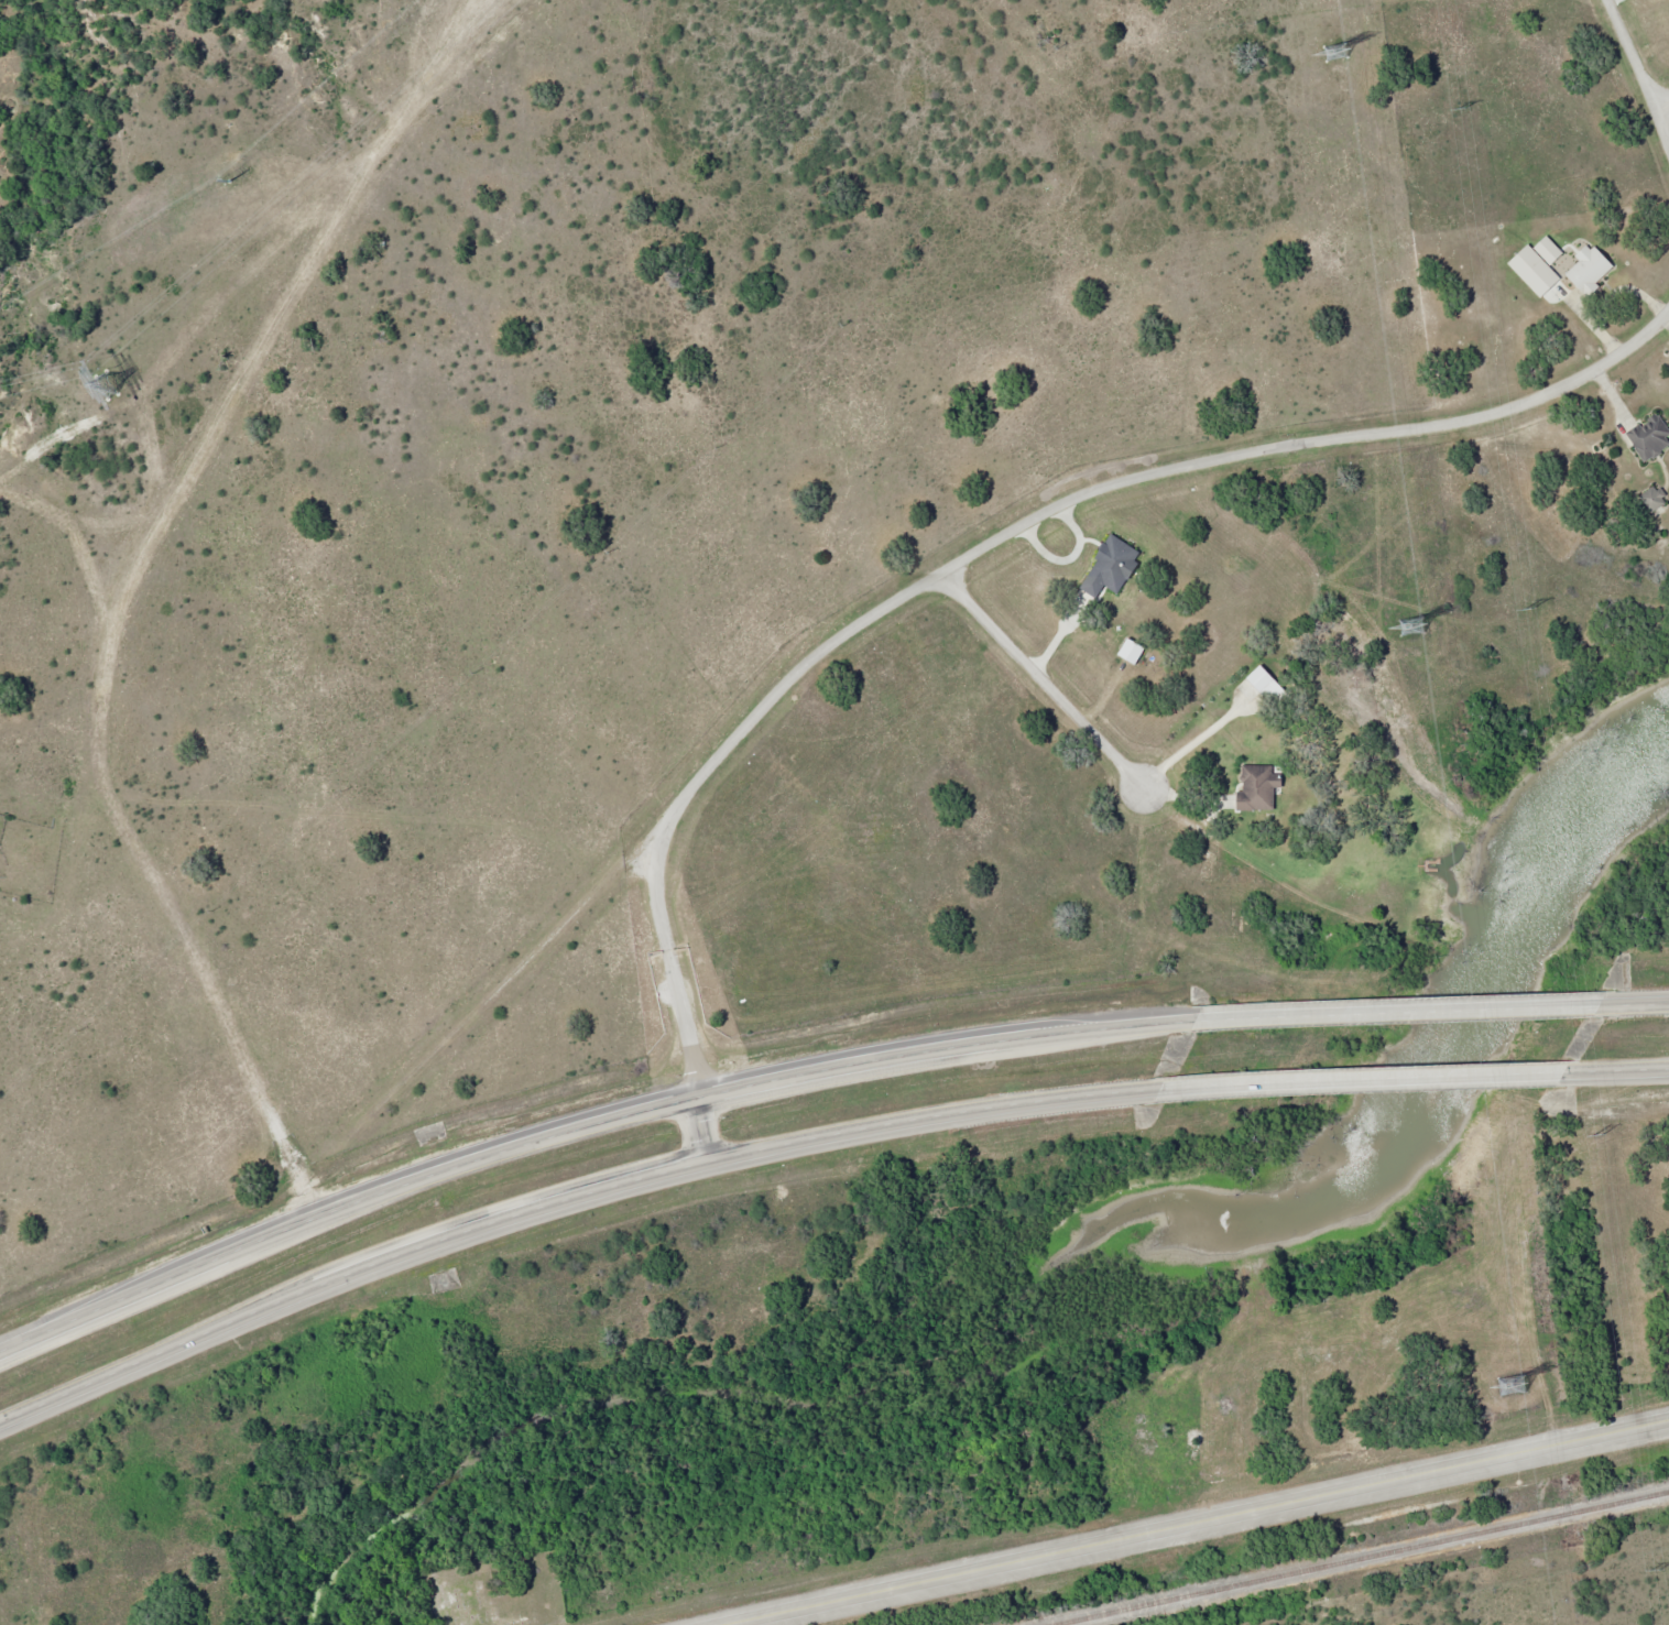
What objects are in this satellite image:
power tower: (1334, 53)
road: (1637, 75)
road: (1656, 86)
power tower: (1457, 107)
building: (1586, 268)
power tower: (105, 385)
building: (1648, 437)
building: (1651, 498)
road: (971, 553)
power tower: (1523, 606)
power tower: (1412, 625)
road: (1045, 681)
road: (1639, 1006)
road: (1406, 1014)
road: (1618, 1068)
road: (1364, 1082)
road: (585, 1132)
power tower: (1593, 1135)
road: (563, 1196)
power tower: (1510, 1387)
road: (1189, 1520)
railway: (1360, 1557)
power tower: (1654, 1570)
park: (494, 1591)

